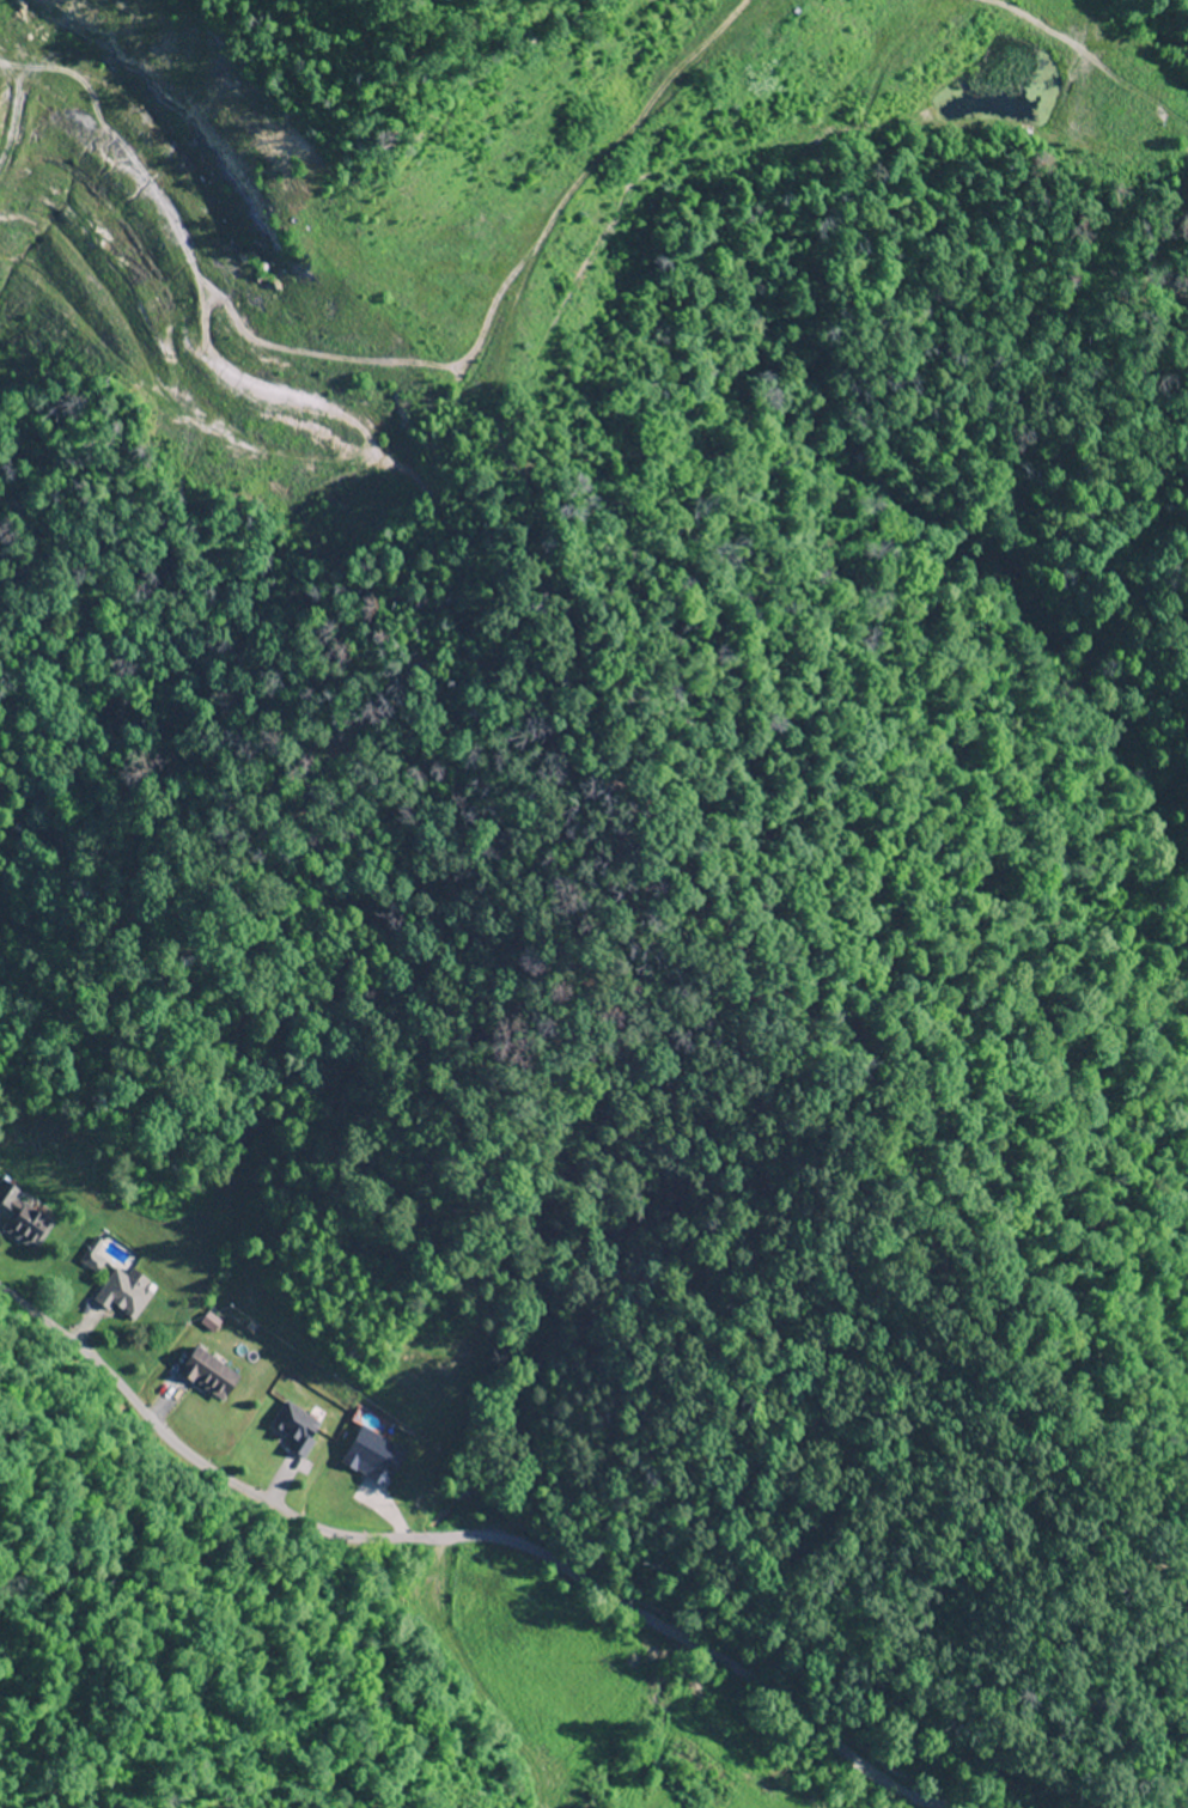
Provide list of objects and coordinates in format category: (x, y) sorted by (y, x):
road: (469, 1538)

